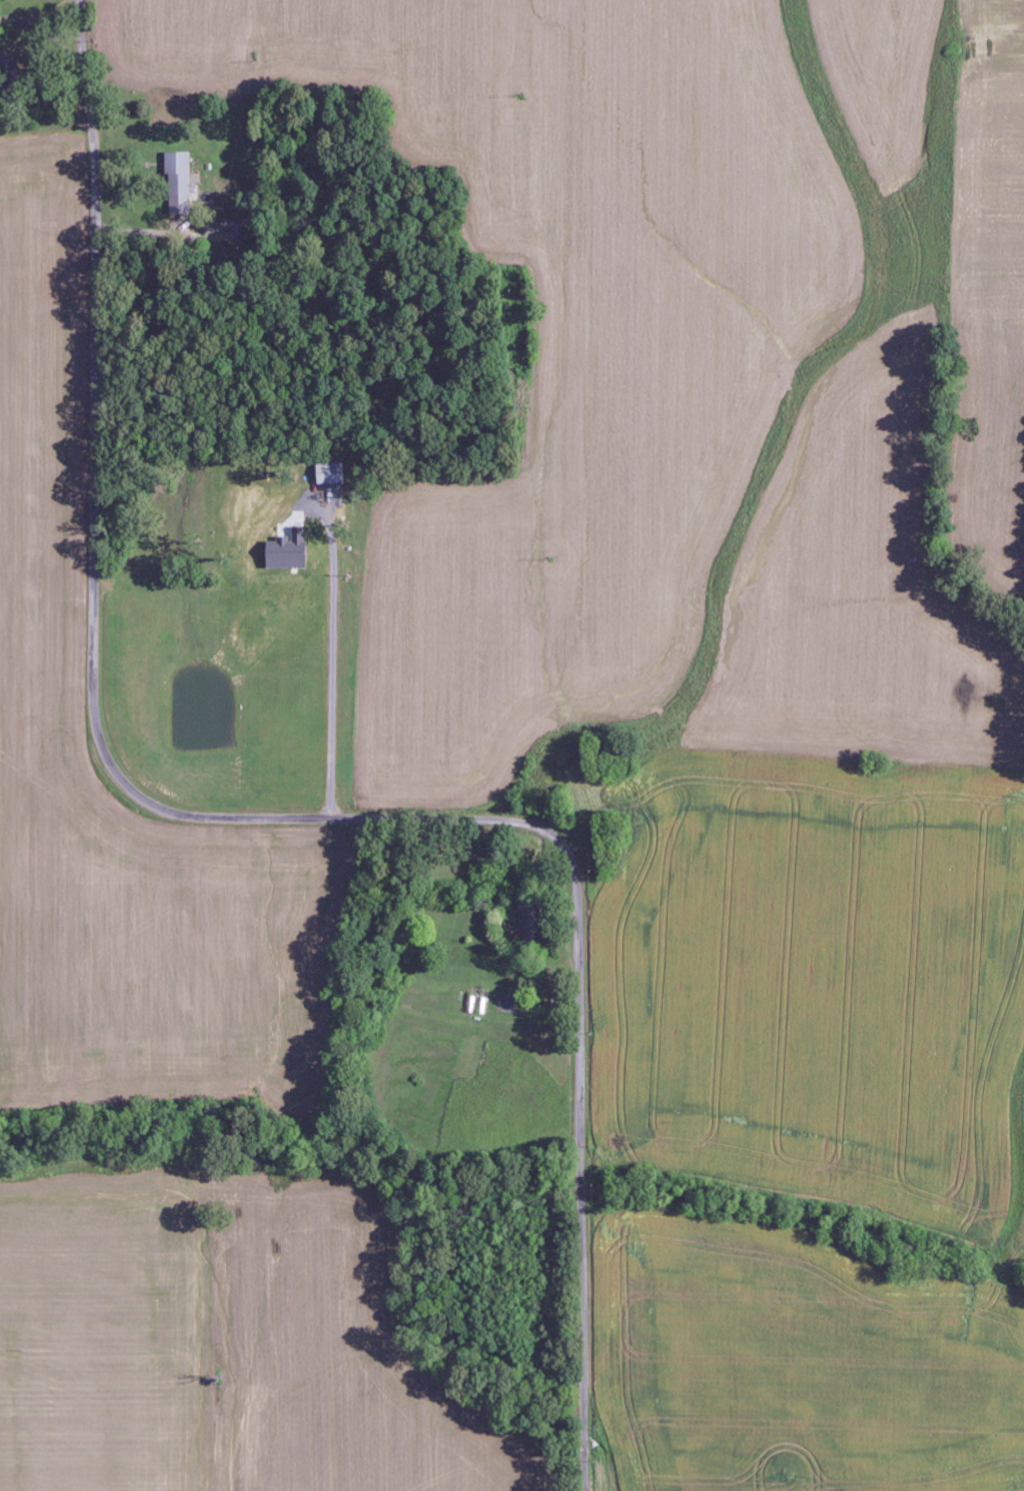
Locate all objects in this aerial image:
building: (8, 63)
building: (181, 182)
building: (332, 474)
building: (290, 551)
road: (268, 820)
building: (531, 922)

